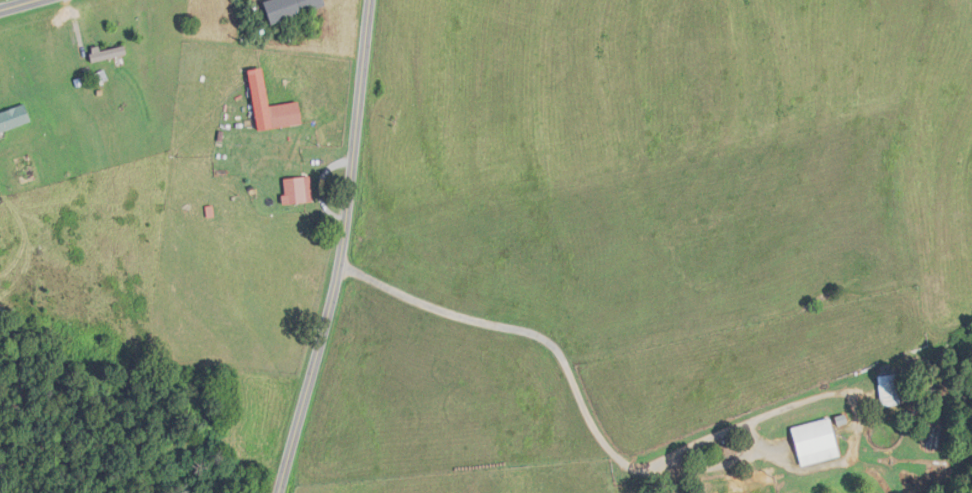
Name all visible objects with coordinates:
road: (27, 7)
building: (291, 8)
building: (108, 54)
building: (271, 106)
building: (14, 119)
building: (294, 190)
road: (342, 249)
road: (576, 367)
building: (889, 389)
building: (816, 442)

